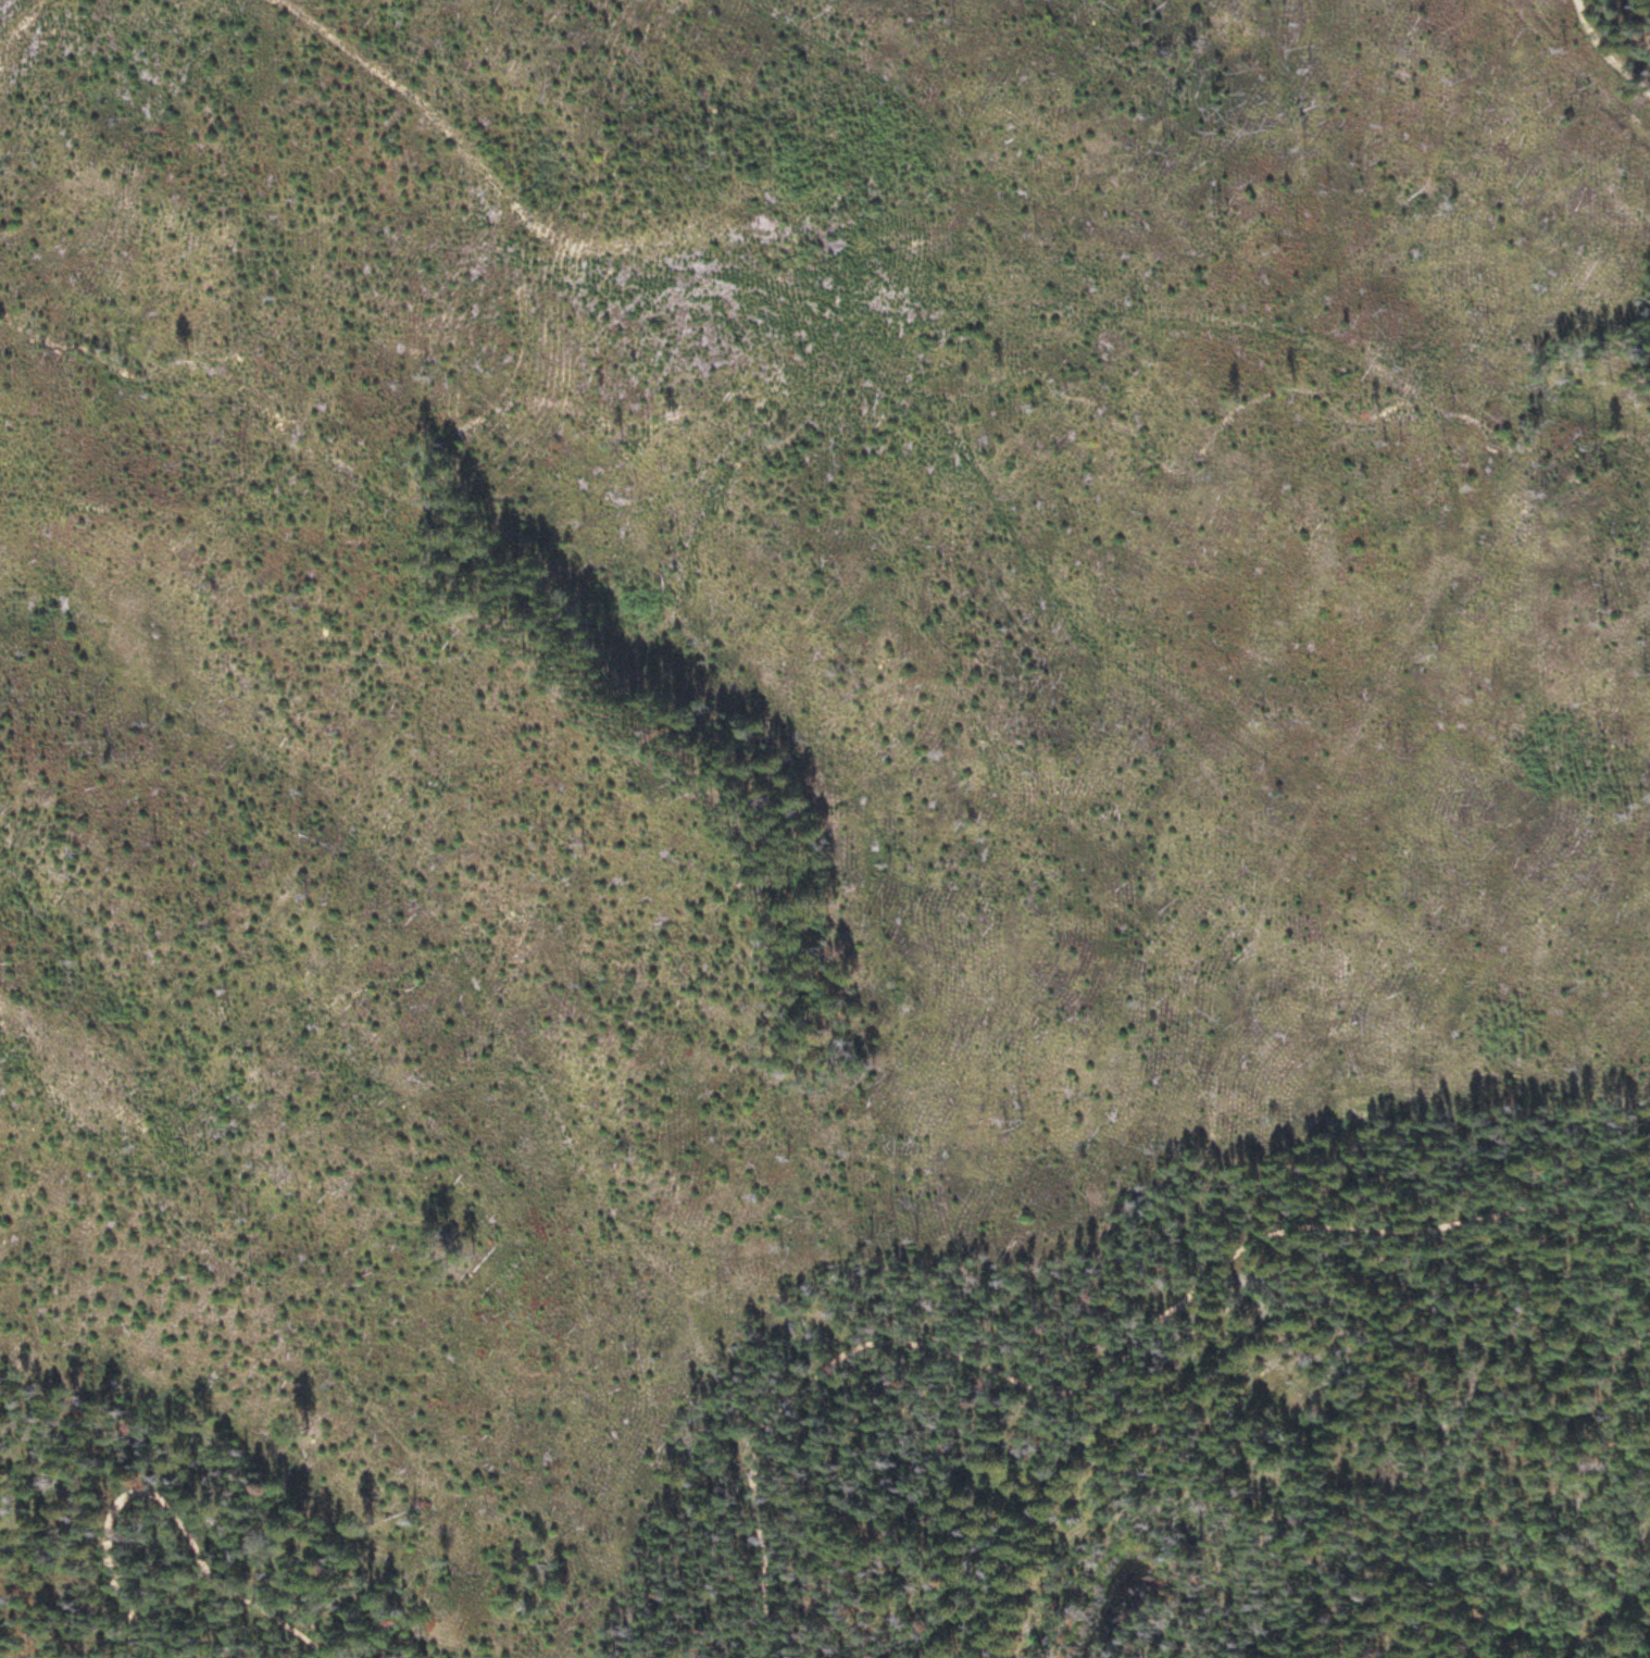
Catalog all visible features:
road: (1614, 43)
road: (1097, 1376)
road: (175, 1505)

